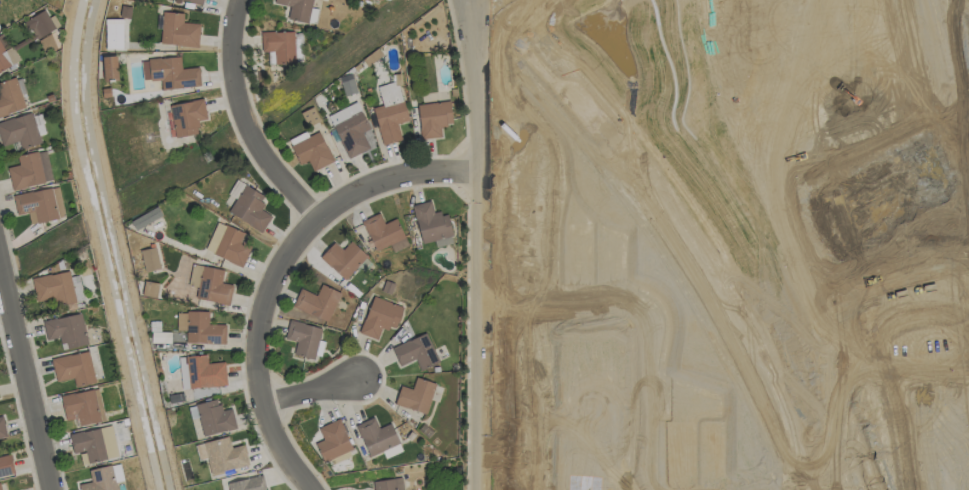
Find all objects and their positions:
building: (197, 0)
building: (297, 9)
road: (507, 12)
road: (521, 13)
building: (41, 24)
building: (178, 30)
building: (113, 34)
building: (279, 45)
building: (2, 65)
building: (110, 67)
building: (169, 73)
building: (347, 84)
building: (9, 96)
building: (389, 113)
building: (0, 114)
building: (186, 117)
building: (433, 118)
road: (239, 121)
building: (39, 124)
building: (350, 129)
building: (19, 131)
building: (312, 151)
building: (30, 170)
park: (853, 203)
building: (39, 204)
building: (250, 208)
building: (145, 218)
building: (431, 222)
road: (690, 228)
road: (665, 232)
building: (384, 233)
building: (228, 244)
building: (343, 258)
building: (149, 259)
road: (279, 269)
building: (209, 284)
building: (53, 288)
building: (149, 289)
building: (316, 302)
building: (380, 317)
road: (638, 324)
building: (199, 328)
road: (478, 330)
building: (66, 331)
building: (160, 337)
building: (303, 338)
building: (416, 352)
building: (73, 368)
building: (204, 372)
road: (25, 380)
road: (305, 392)
building: (415, 395)
building: (214, 418)
building: (0, 434)
building: (376, 436)
building: (332, 441)
building: (95, 444)
building: (224, 455)
building: (6, 465)
building: (102, 478)
building: (245, 484)
building: (387, 484)

